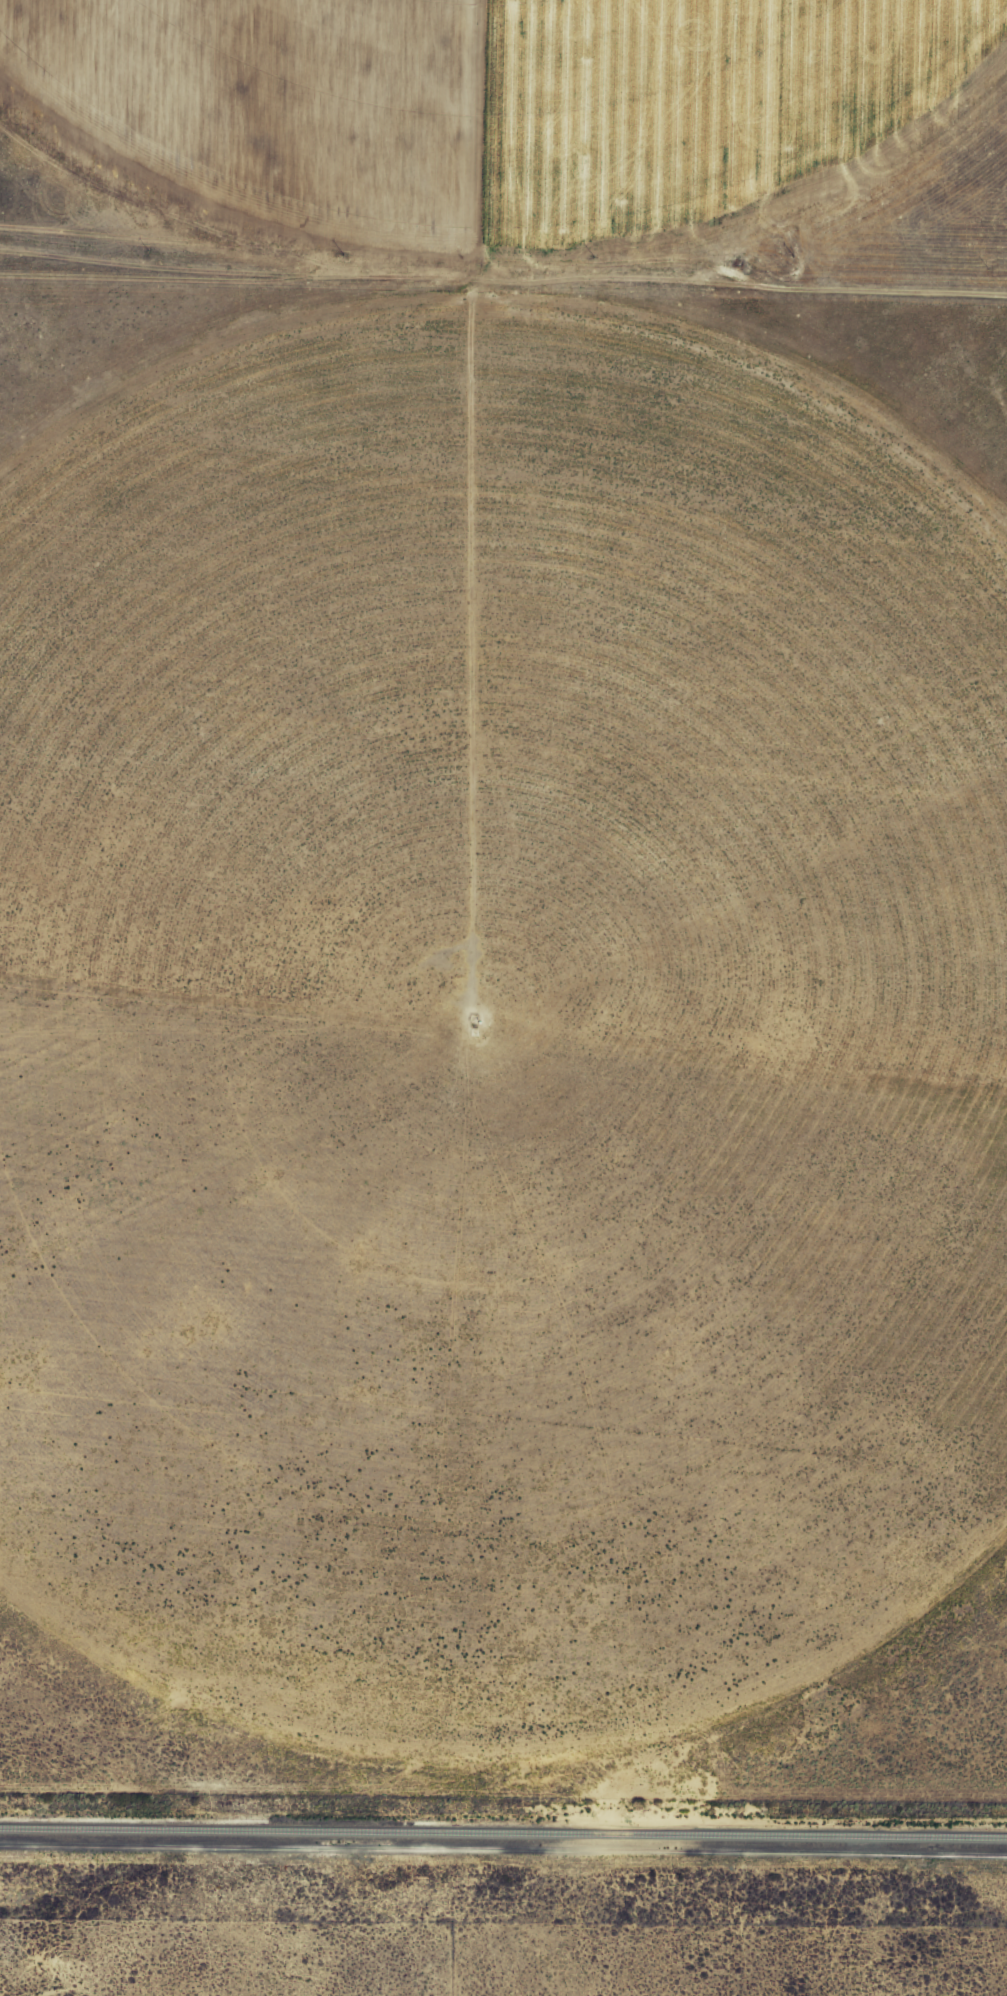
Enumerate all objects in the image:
railway: (229, 1830)
railway: (732, 1835)

